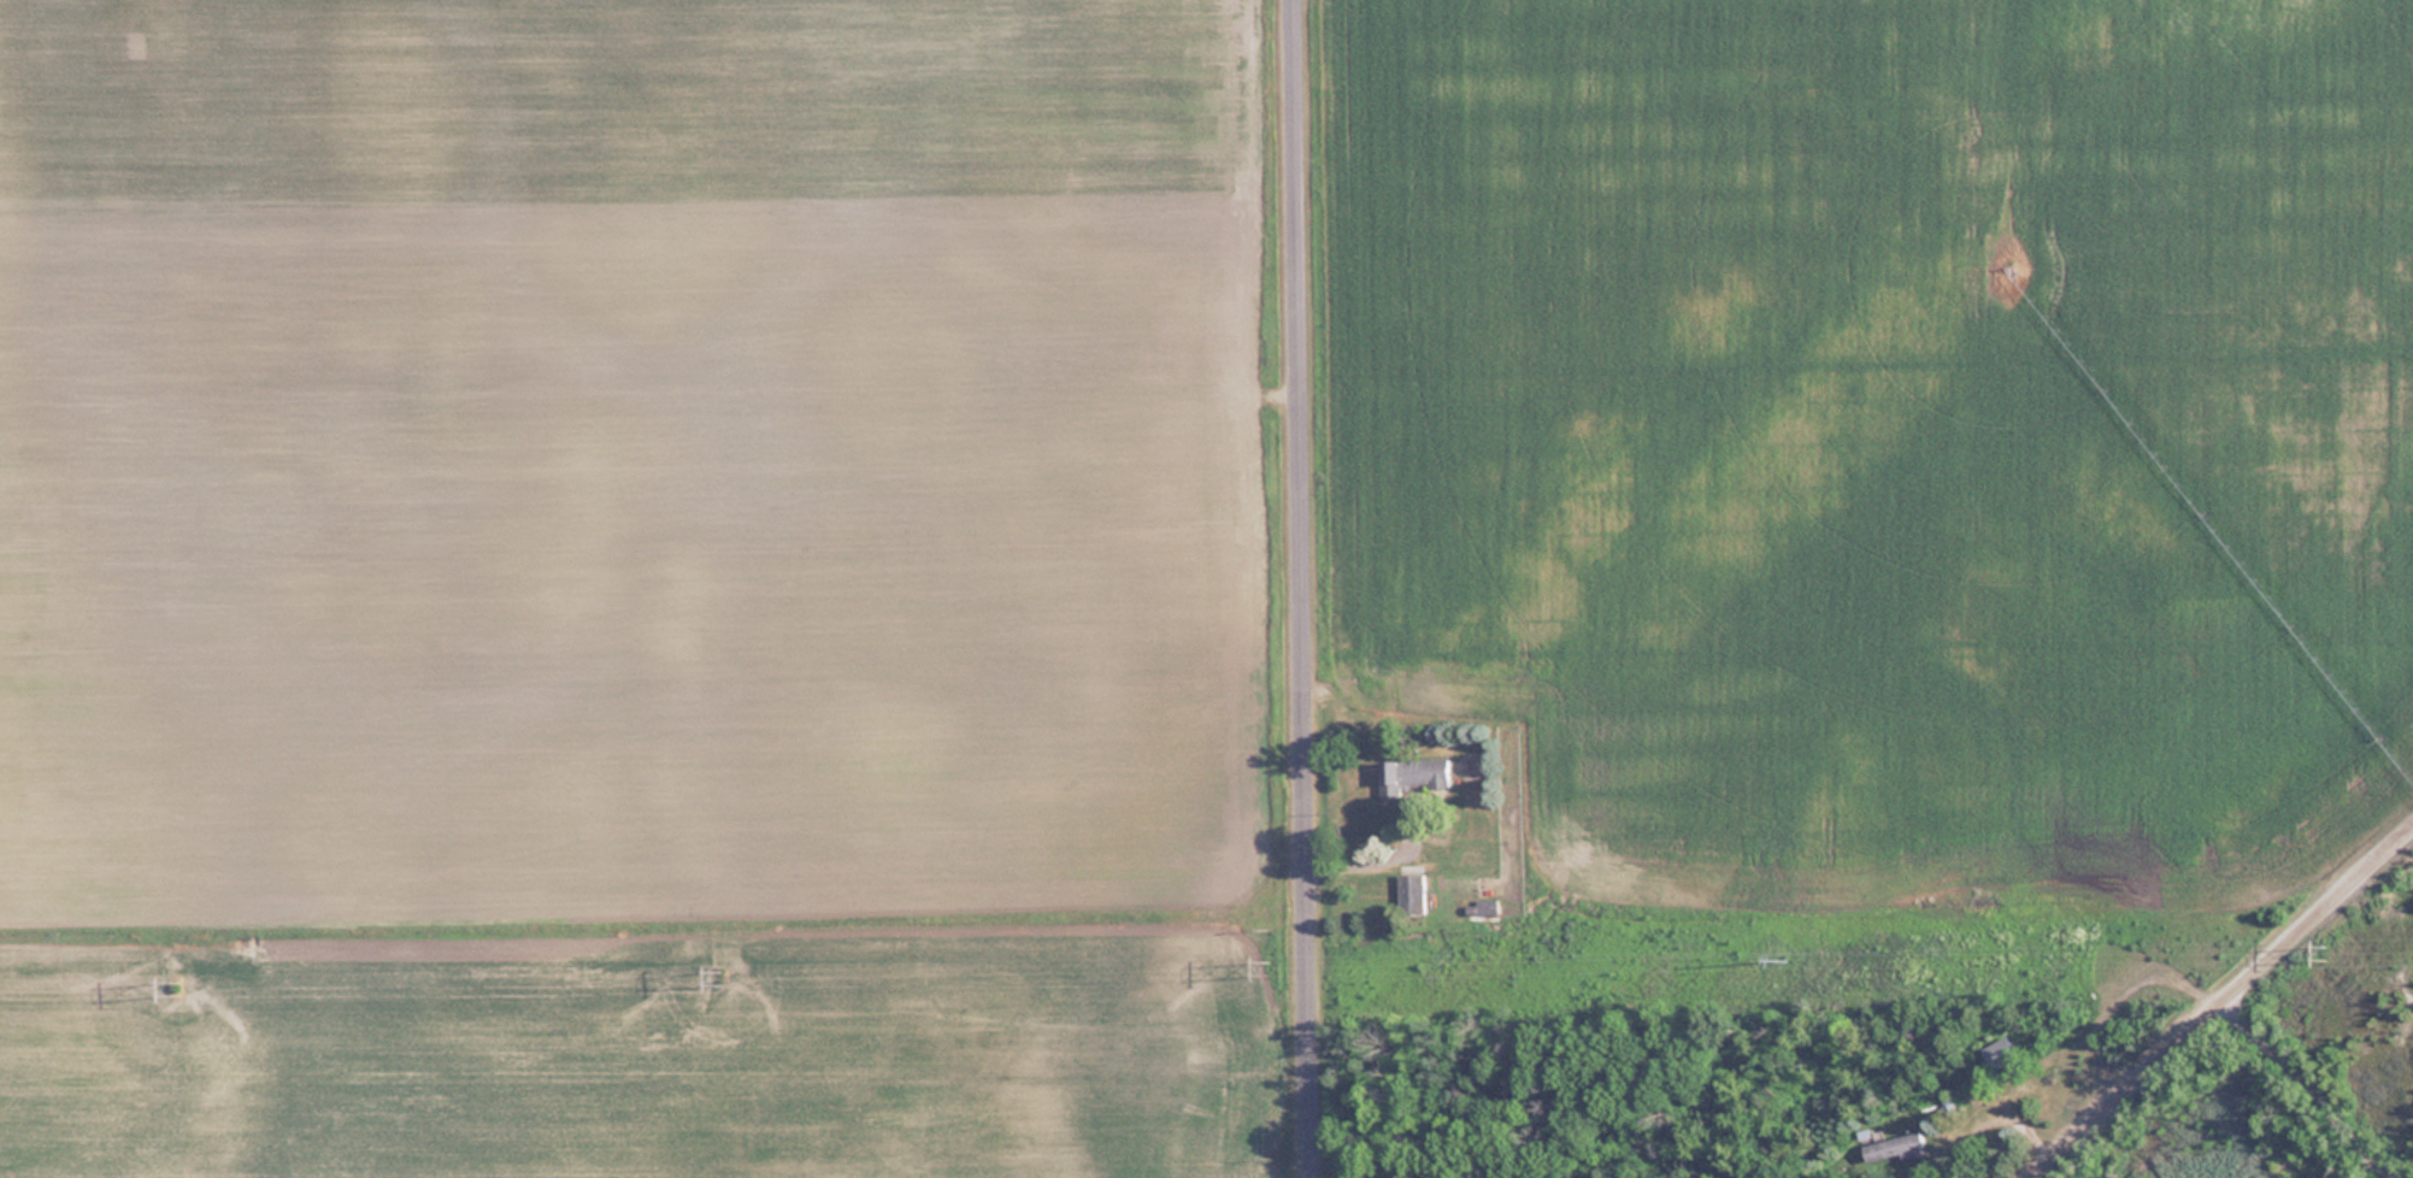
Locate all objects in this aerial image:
road: (1301, 589)
building: (1409, 774)
building: (1408, 893)
power tower: (2332, 948)
power tower: (1791, 955)
power tower: (1277, 966)
power tower: (731, 977)
power tower: (186, 989)
road: (2221, 1003)
road: (2288, 1084)
building: (1895, 1145)

